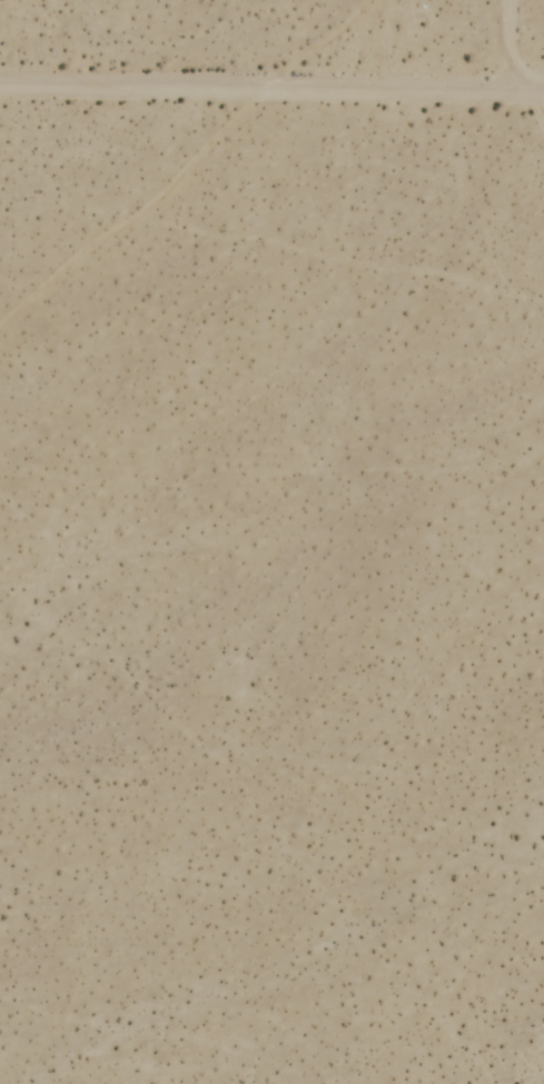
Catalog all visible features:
road: (513, 41)
road: (271, 81)

